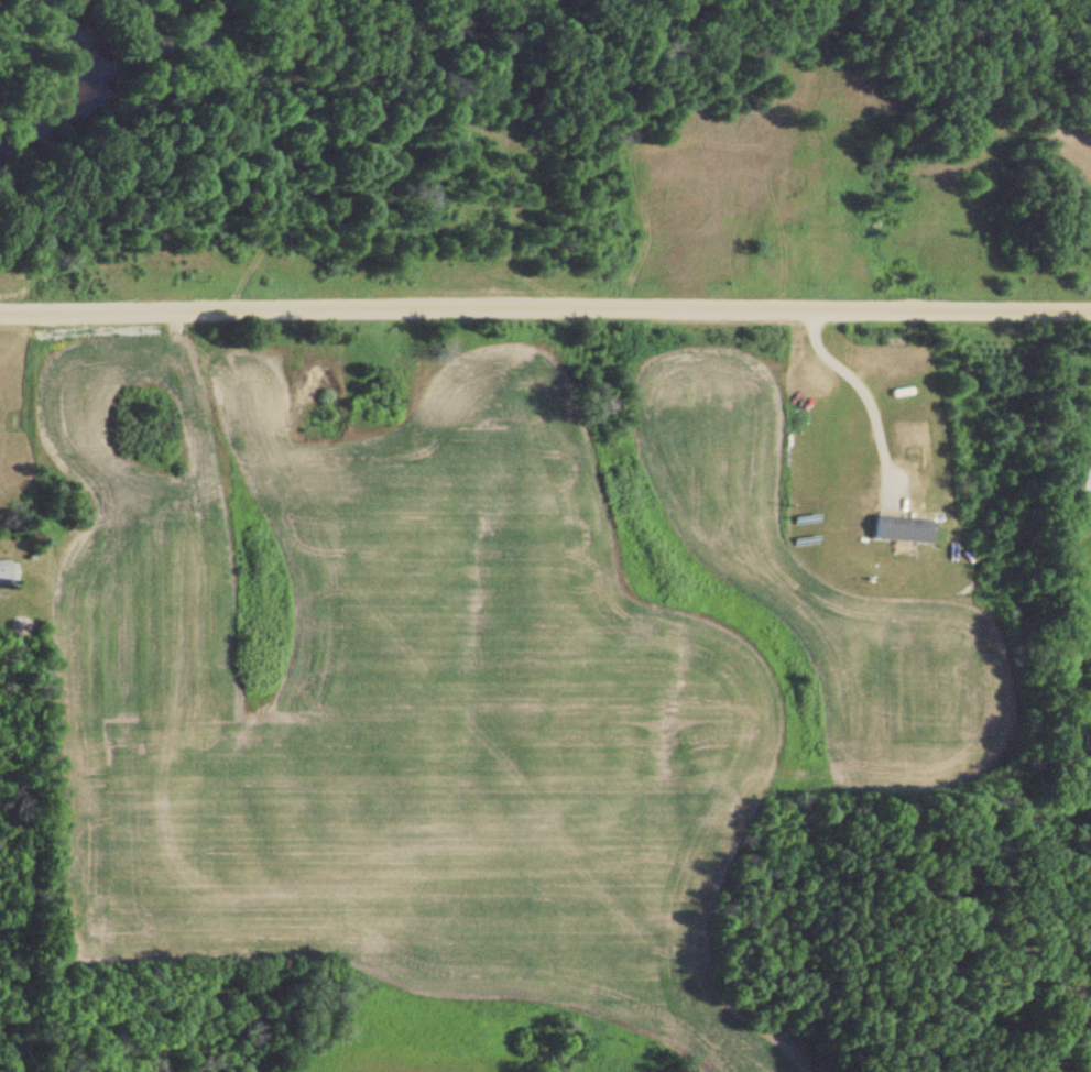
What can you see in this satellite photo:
river: (86, 97)
road: (545, 308)
building: (1084, 486)
building: (901, 528)

